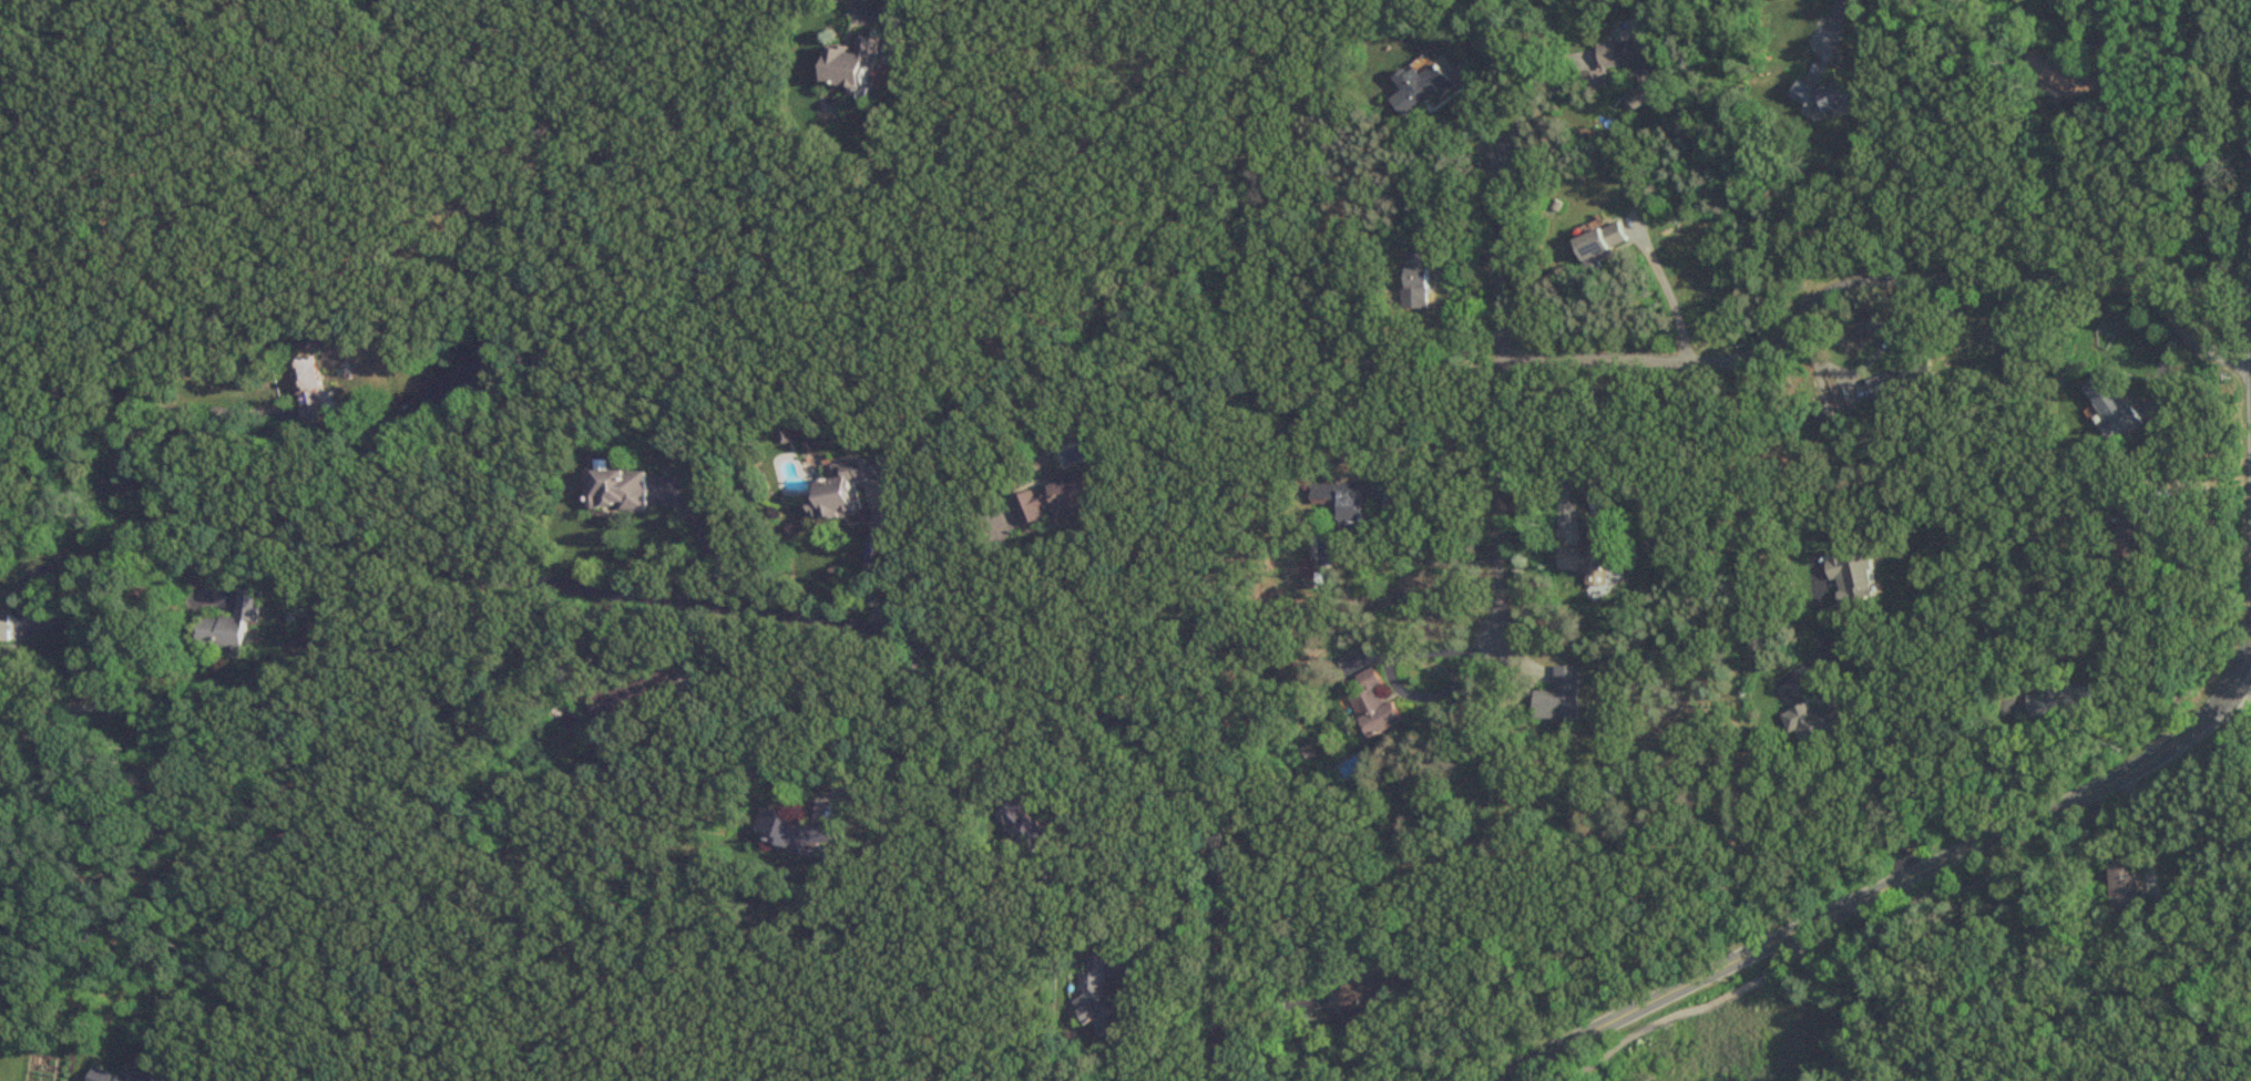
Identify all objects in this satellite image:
road: (1829, 34)
building: (856, 62)
building: (1644, 68)
road: (1528, 85)
building: (1421, 90)
building: (1835, 95)
building: (1606, 241)
building: (1416, 279)
road: (1879, 280)
road: (1662, 291)
building: (1903, 381)
road: (1506, 387)
building: (305, 389)
building: (2111, 409)
road: (1405, 442)
road: (1584, 442)
building: (847, 486)
building: (620, 491)
building: (1057, 501)
building: (1341, 501)
building: (2130, 529)
road: (702, 547)
building: (1592, 548)
road: (185, 560)
road: (866, 567)
building: (1858, 574)
road: (989, 587)
road: (63, 612)
road: (761, 612)
building: (235, 624)
building: (7, 625)
road: (2196, 630)
building: (84, 662)
road: (1457, 678)
road: (2240, 689)
building: (1562, 696)
building: (622, 700)
building: (2057, 701)
building: (1377, 704)
road: (947, 709)
road: (1901, 711)
building: (1822, 722)
road: (892, 728)
road: (2001, 753)
building: (1024, 825)
road: (1892, 884)
road: (1911, 908)
road: (1165, 912)
road: (1960, 990)
building: (1101, 997)
building: (1363, 1001)
road: (1296, 1037)

